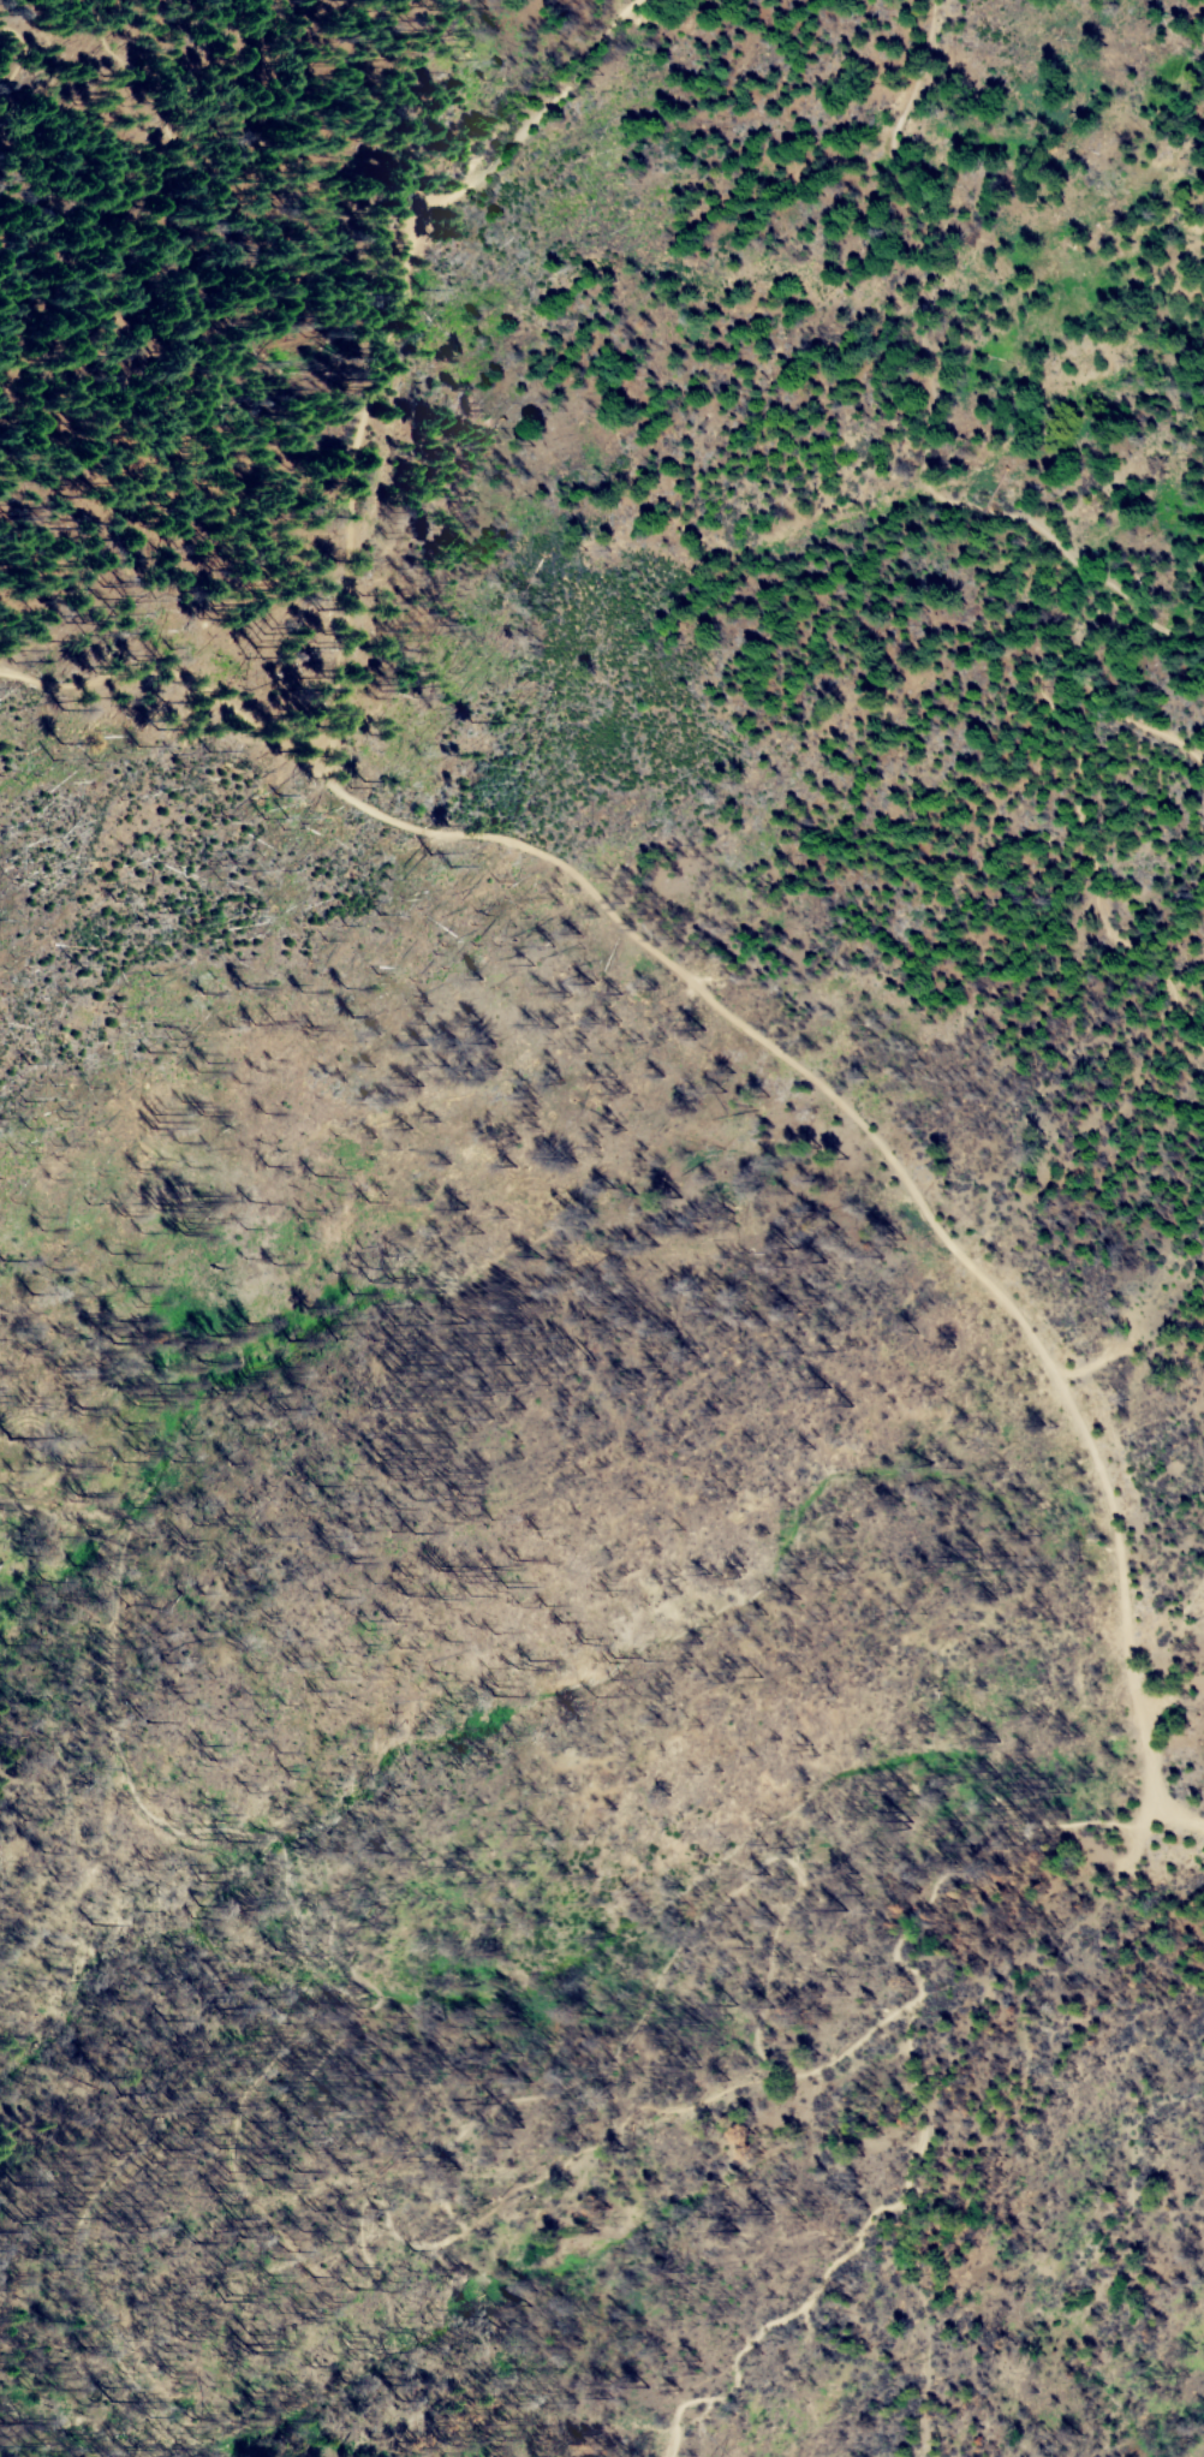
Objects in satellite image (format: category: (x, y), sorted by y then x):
road: (931, 239)
road: (786, 1059)

